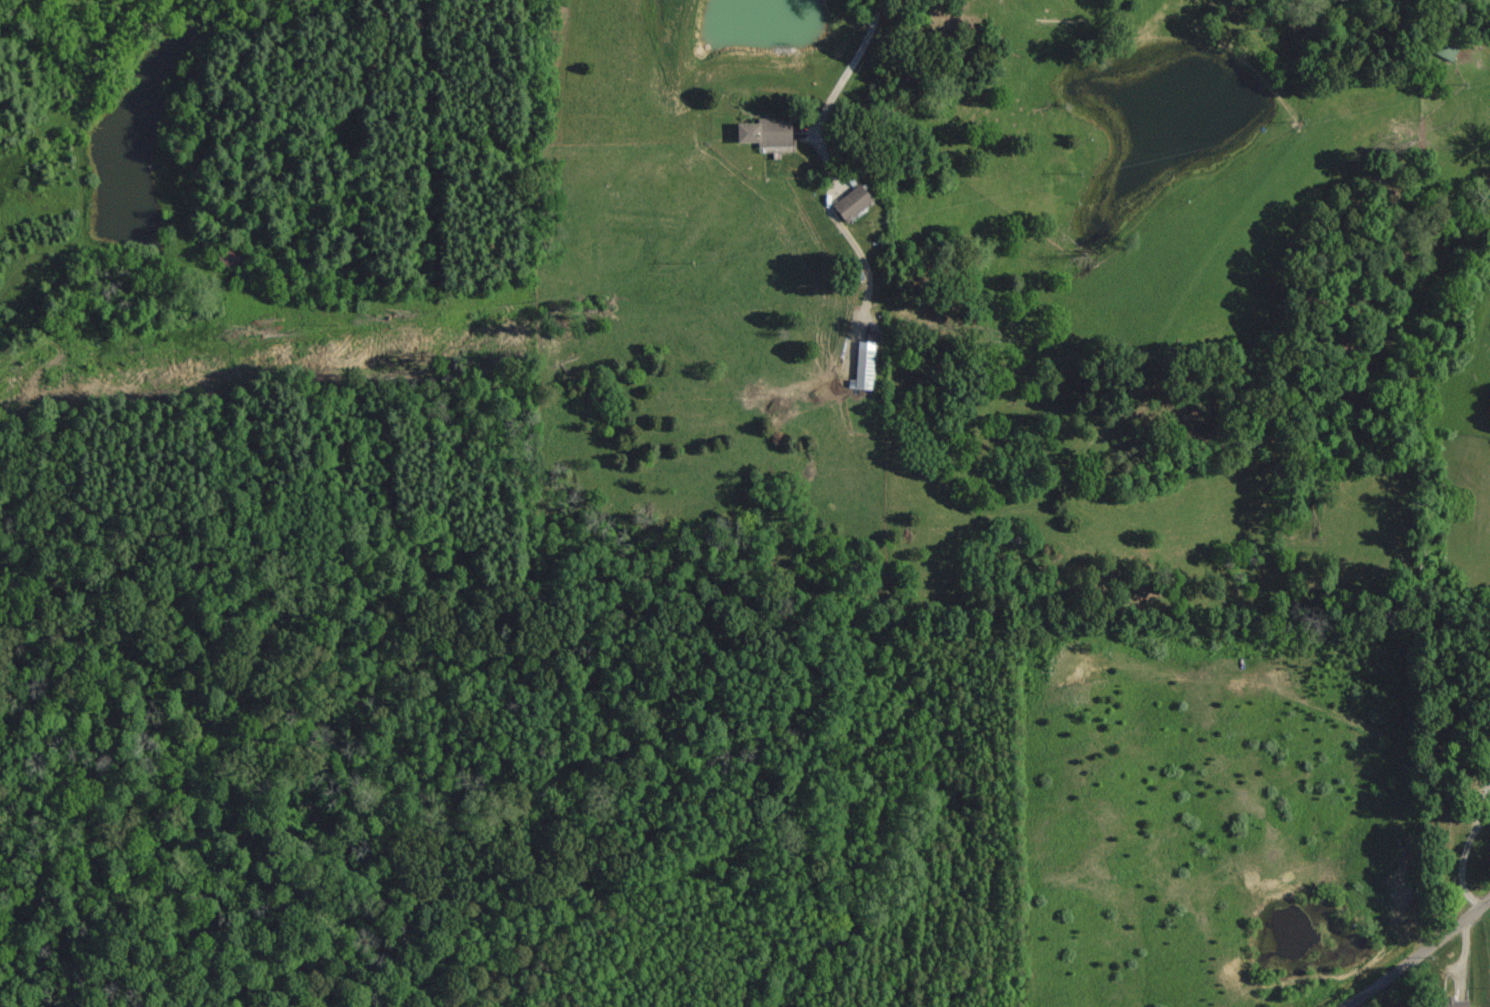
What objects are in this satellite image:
road: (850, 67)
building: (761, 133)
building: (849, 203)
building: (861, 366)
road: (1419, 953)

